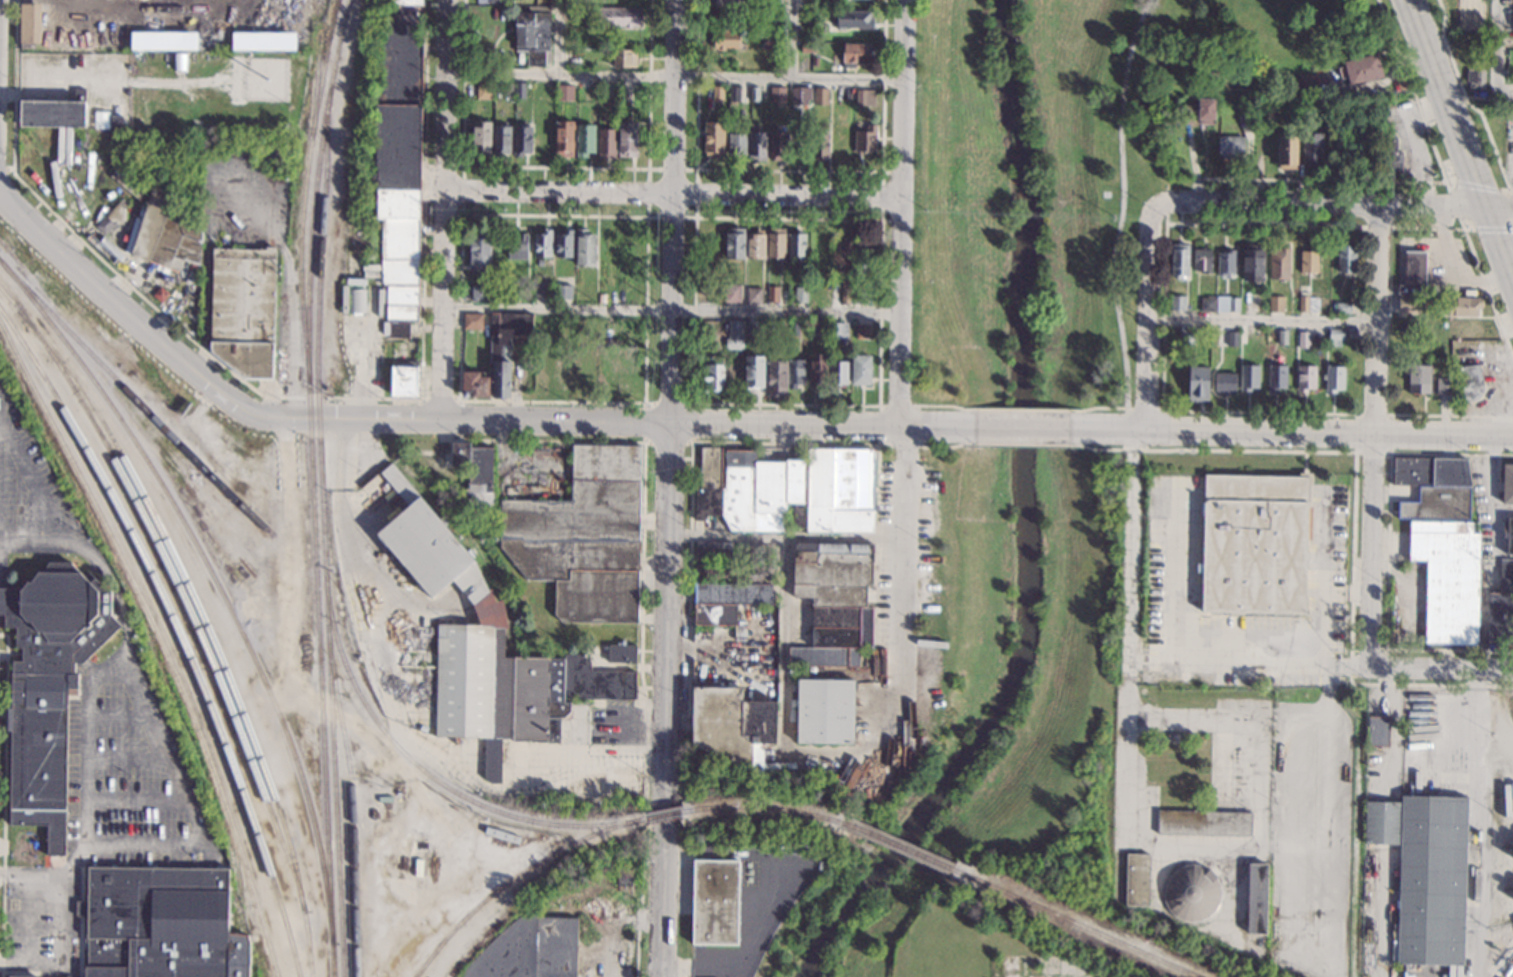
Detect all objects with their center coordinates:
building: (495, 1)
building: (725, 2)
building: (773, 2)
building: (807, 4)
building: (225, 10)
park: (1461, 15)
building: (619, 17)
building: (854, 19)
building: (1512, 22)
building: (29, 25)
building: (569, 32)
building: (534, 34)
road: (555, 38)
building: (725, 39)
building: (162, 40)
road: (791, 40)
building: (263, 41)
building: (771, 41)
building: (808, 47)
building: (1477, 47)
building: (854, 54)
road: (1498, 56)
building: (574, 57)
building: (622, 58)
building: (815, 61)
railway: (316, 67)
building: (1361, 69)
building: (1476, 76)
road: (674, 78)
building: (1306, 82)
building: (507, 90)
building: (519, 90)
building: (483, 91)
building: (564, 92)
building: (754, 93)
building: (625, 94)
building: (718, 94)
building: (733, 94)
building: (777, 95)
building: (800, 95)
road: (673, 96)
building: (820, 96)
building: (864, 97)
road: (1466, 99)
building: (1266, 108)
building: (54, 111)
building: (1206, 111)
building: (1188, 113)
building: (1246, 114)
building: (101, 119)
building: (116, 122)
building: (482, 138)
building: (564, 138)
building: (501, 139)
building: (522, 139)
building: (585, 139)
building: (627, 140)
building: (714, 140)
building: (865, 140)
building: (136, 141)
building: (607, 143)
building: (737, 144)
building: (756, 144)
building: (819, 145)
road: (1460, 145)
building: (54, 146)
building: (68, 146)
building: (777, 146)
building: (1231, 147)
park: (1136, 148)
building: (1311, 148)
building: (1288, 153)
building: (1390, 155)
building: (399, 161)
road: (7, 168)
road: (555, 168)
road: (648, 168)
road: (790, 169)
road: (1400, 180)
road: (1477, 185)
railway: (303, 191)
road: (462, 191)
road: (672, 193)
road: (1511, 194)
road: (882, 195)
road: (1122, 202)
road: (1167, 204)
road: (1455, 204)
road: (1276, 205)
road: (1445, 208)
road: (443, 210)
park: (967, 211)
road: (647, 216)
building: (111, 217)
road: (881, 219)
road: (1194, 222)
road: (1488, 228)
building: (166, 235)
building: (734, 243)
building: (776, 243)
building: (543, 244)
building: (564, 244)
building: (755, 245)
building: (517, 246)
building: (797, 246)
building: (479, 247)
building: (584, 248)
building: (840, 251)
building: (863, 253)
building: (1179, 259)
building: (1346, 259)
building: (1203, 260)
building: (1309, 260)
building: (540, 262)
building: (1252, 262)
building: (1226, 263)
building: (1279, 263)
building: (1413, 274)
building: (541, 288)
building: (562, 291)
building: (845, 292)
building: (479, 293)
building: (731, 293)
building: (160, 294)
building: (772, 294)
building: (801, 294)
building: (754, 295)
building: (818, 295)
building: (858, 295)
building: (344, 298)
building: (357, 300)
building: (601, 300)
building: (1178, 303)
building: (1308, 303)
building: (1207, 304)
building: (1227, 304)
building: (1275, 304)
building: (1411, 304)
building: (1464, 306)
road: (670, 307)
building: (1342, 308)
building: (243, 309)
road: (1150, 309)
road: (670, 312)
road: (1263, 320)
building: (472, 321)
building: (1405, 325)
building: (539, 326)
building: (753, 328)
building: (781, 328)
building: (793, 328)
building: (1472, 328)
building: (816, 329)
building: (838, 330)
building: (863, 331)
building: (734, 335)
building: (1186, 336)
building: (1282, 337)
building: (1335, 337)
building: (1232, 338)
building: (1303, 340)
building: (504, 347)
building: (817, 368)
building: (860, 369)
road: (901, 371)
building: (754, 372)
building: (795, 373)
building: (838, 374)
building: (712, 376)
building: (777, 377)
building: (1249, 378)
building: (1277, 378)
building: (1305, 378)
building: (1333, 379)
building: (1418, 379)
building: (404, 381)
building: (1471, 382)
road: (518, 383)
building: (1198, 383)
building: (1225, 383)
building: (474, 385)
building: (1444, 385)
road: (286, 397)
railway: (136, 400)
road: (459, 400)
road: (692, 402)
road: (914, 404)
road: (947, 404)
road: (1097, 407)
road: (1143, 408)
road: (1023, 409)
road: (1391, 414)
road: (1452, 414)
road: (292, 418)
road: (822, 425)
road: (1022, 427)
road: (1106, 427)
road: (1330, 431)
road: (1377, 439)
road: (1022, 442)
road: (948, 445)
road: (19, 455)
railway: (312, 469)
building: (474, 482)
building: (1507, 483)
road: (691, 485)
building: (1434, 487)
building: (749, 490)
building: (839, 490)
road: (1354, 502)
road: (38, 515)
river: (1024, 522)
road: (877, 526)
railway: (323, 532)
building: (1509, 536)
building: (583, 537)
road: (842, 537)
road: (20, 543)
building: (1254, 543)
building: (713, 551)
building: (1155, 552)
road: (1388, 552)
road: (290, 554)
building: (716, 570)
road: (110, 579)
building: (1448, 579)
road: (1322, 581)
railway: (178, 587)
railway: (223, 594)
park: (961, 600)
building: (730, 601)
building: (834, 601)
building: (1155, 604)
road: (641, 607)
road: (214, 608)
building: (1501, 608)
railway: (205, 623)
railway: (178, 630)
railway: (160, 641)
road: (784, 645)
building: (486, 647)
road: (1368, 647)
building: (621, 653)
road: (1184, 666)
road: (1442, 671)
building: (414, 683)
building: (48, 686)
road: (665, 699)
park: (1059, 700)
building: (825, 711)
road: (1244, 719)
road: (356, 726)
building: (732, 726)
building: (1377, 731)
road: (156, 739)
railway: (425, 771)
building: (1166, 771)
railway: (351, 800)
building: (441, 802)
road: (2, 803)
railway: (760, 806)
railway: (663, 815)
building: (1203, 822)
building: (1381, 822)
road: (1484, 824)
railway: (896, 847)
building: (417, 870)
building: (624, 874)
road: (22, 876)
railway: (514, 878)
building: (1137, 880)
building: (1431, 880)
building: (1191, 893)
road: (762, 896)
building: (1256, 899)
building: (714, 902)
road: (45, 918)
road: (391, 922)
building: (162, 923)
railway: (1073, 924)
building: (529, 949)
road: (736, 968)
building: (24, 976)

